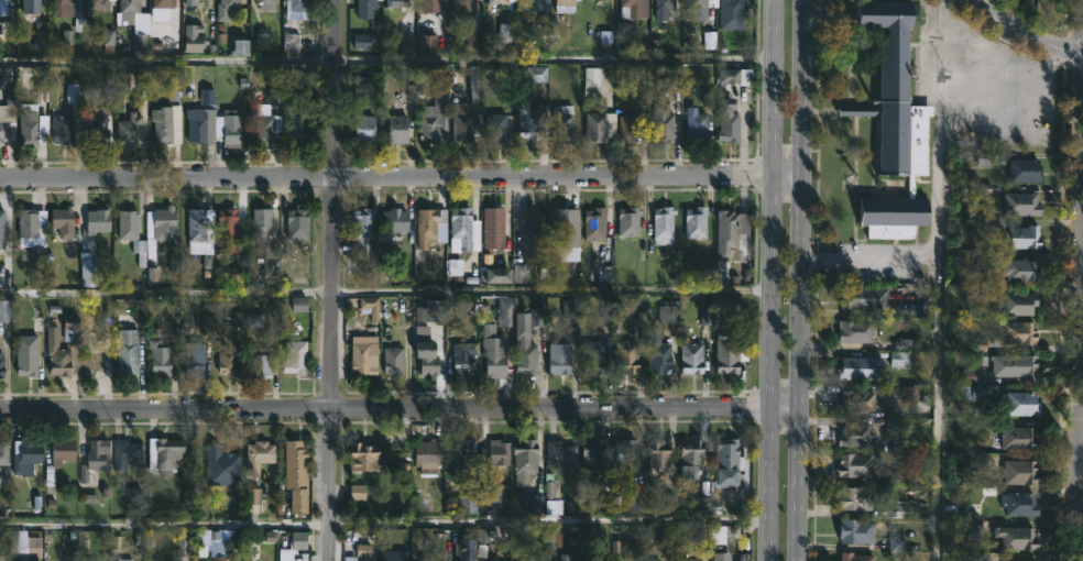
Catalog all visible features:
building: (600, 0)
building: (63, 1)
building: (3, 2)
building: (164, 2)
building: (189, 2)
building: (269, 2)
building: (500, 2)
building: (397, 3)
building: (96, 4)
building: (463, 4)
building: (665, 4)
building: (30, 5)
building: (128, 5)
building: (430, 5)
building: (533, 5)
building: (566, 5)
building: (226, 8)
building: (628, 8)
building: (705, 8)
building: (296, 9)
building: (365, 9)
building: (732, 14)
road: (1021, 30)
building: (363, 45)
road: (386, 62)
building: (739, 77)
building: (592, 81)
road: (773, 85)
road: (801, 86)
building: (439, 88)
building: (75, 107)
building: (729, 119)
building: (203, 120)
building: (462, 122)
building: (534, 122)
building: (663, 122)
building: (429, 123)
building: (891, 123)
building: (564, 124)
building: (164, 125)
building: (298, 125)
building: (601, 127)
building: (697, 127)
building: (496, 128)
building: (33, 129)
building: (96, 129)
building: (130, 129)
building: (232, 129)
building: (364, 129)
building: (396, 129)
building: (628, 129)
building: (62, 130)
building: (263, 130)
building: (4, 131)
building: (1026, 169)
road: (787, 172)
road: (385, 175)
building: (1024, 205)
building: (4, 218)
building: (395, 220)
building: (62, 221)
building: (99, 221)
building: (627, 221)
building: (696, 221)
building: (26, 222)
building: (196, 223)
building: (297, 223)
building: (166, 224)
building: (228, 224)
building: (262, 224)
building: (989, 224)
building: (128, 226)
building: (594, 226)
building: (665, 226)
building: (430, 227)
building: (461, 227)
building: (493, 227)
road: (800, 229)
building: (532, 233)
building: (566, 234)
building: (728, 234)
road: (772, 234)
building: (362, 235)
building: (1027, 238)
road: (871, 260)
building: (1018, 269)
road: (331, 279)
road: (940, 280)
road: (385, 290)
building: (865, 296)
building: (1021, 304)
building: (371, 307)
building: (6, 311)
building: (430, 311)
building: (669, 320)
building: (70, 328)
building: (856, 330)
building: (1020, 332)
road: (799, 348)
building: (127, 352)
building: (494, 352)
road: (770, 352)
building: (728, 353)
building: (659, 354)
building: (363, 355)
building: (525, 355)
building: (427, 356)
building: (627, 356)
building: (464, 358)
building: (691, 358)
building: (160, 359)
building: (194, 359)
building: (296, 359)
building: (559, 359)
building: (593, 359)
building: (227, 360)
building: (394, 360)
building: (900, 361)
building: (26, 362)
building: (58, 362)
building: (94, 362)
building: (261, 363)
building: (2, 366)
building: (1016, 366)
building: (862, 367)
building: (982, 393)
building: (856, 402)
building: (1021, 403)
road: (1080, 405)
road: (385, 407)
road: (785, 407)
road: (770, 431)
building: (855, 436)
building: (1021, 437)
road: (799, 439)
building: (64, 449)
building: (4, 452)
building: (496, 452)
building: (127, 453)
building: (228, 453)
building: (597, 453)
building: (659, 453)
building: (164, 454)
building: (260, 454)
building: (429, 454)
building: (561, 454)
building: (625, 454)
building: (26, 455)
building: (296, 457)
building: (690, 457)
building: (96, 458)
building: (364, 458)
building: (730, 459)
building: (525, 460)
building: (459, 462)
building: (857, 464)
building: (1021, 471)
building: (860, 497)
building: (1022, 504)
road: (770, 508)
road: (384, 515)
road: (798, 516)
building: (857, 530)
building: (1018, 538)
building: (17, 542)
building: (293, 546)
building: (721, 555)
building: (1, 557)
building: (566, 557)
building: (856, 557)
building: (218, 558)
building: (352, 558)
building: (430, 559)
building: (125, 560)
building: (534, 560)

